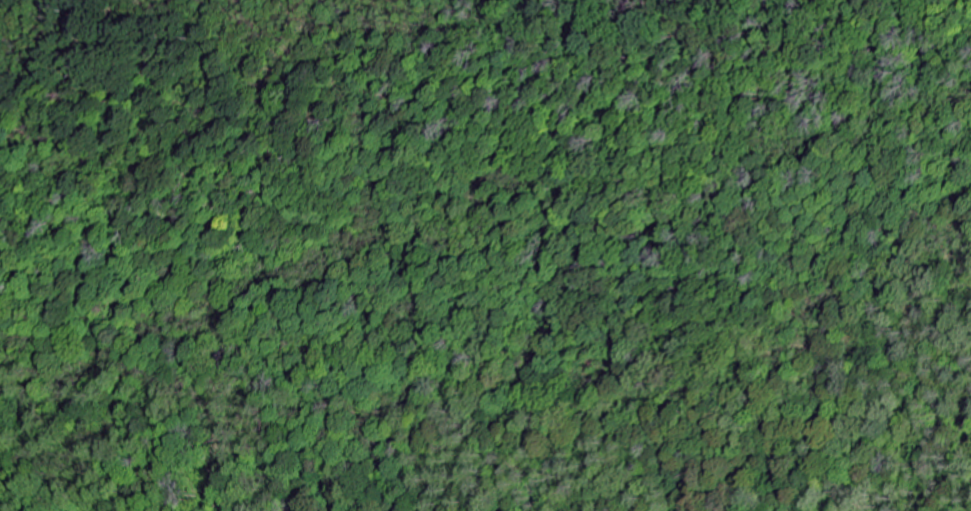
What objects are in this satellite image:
road: (403, 64)

